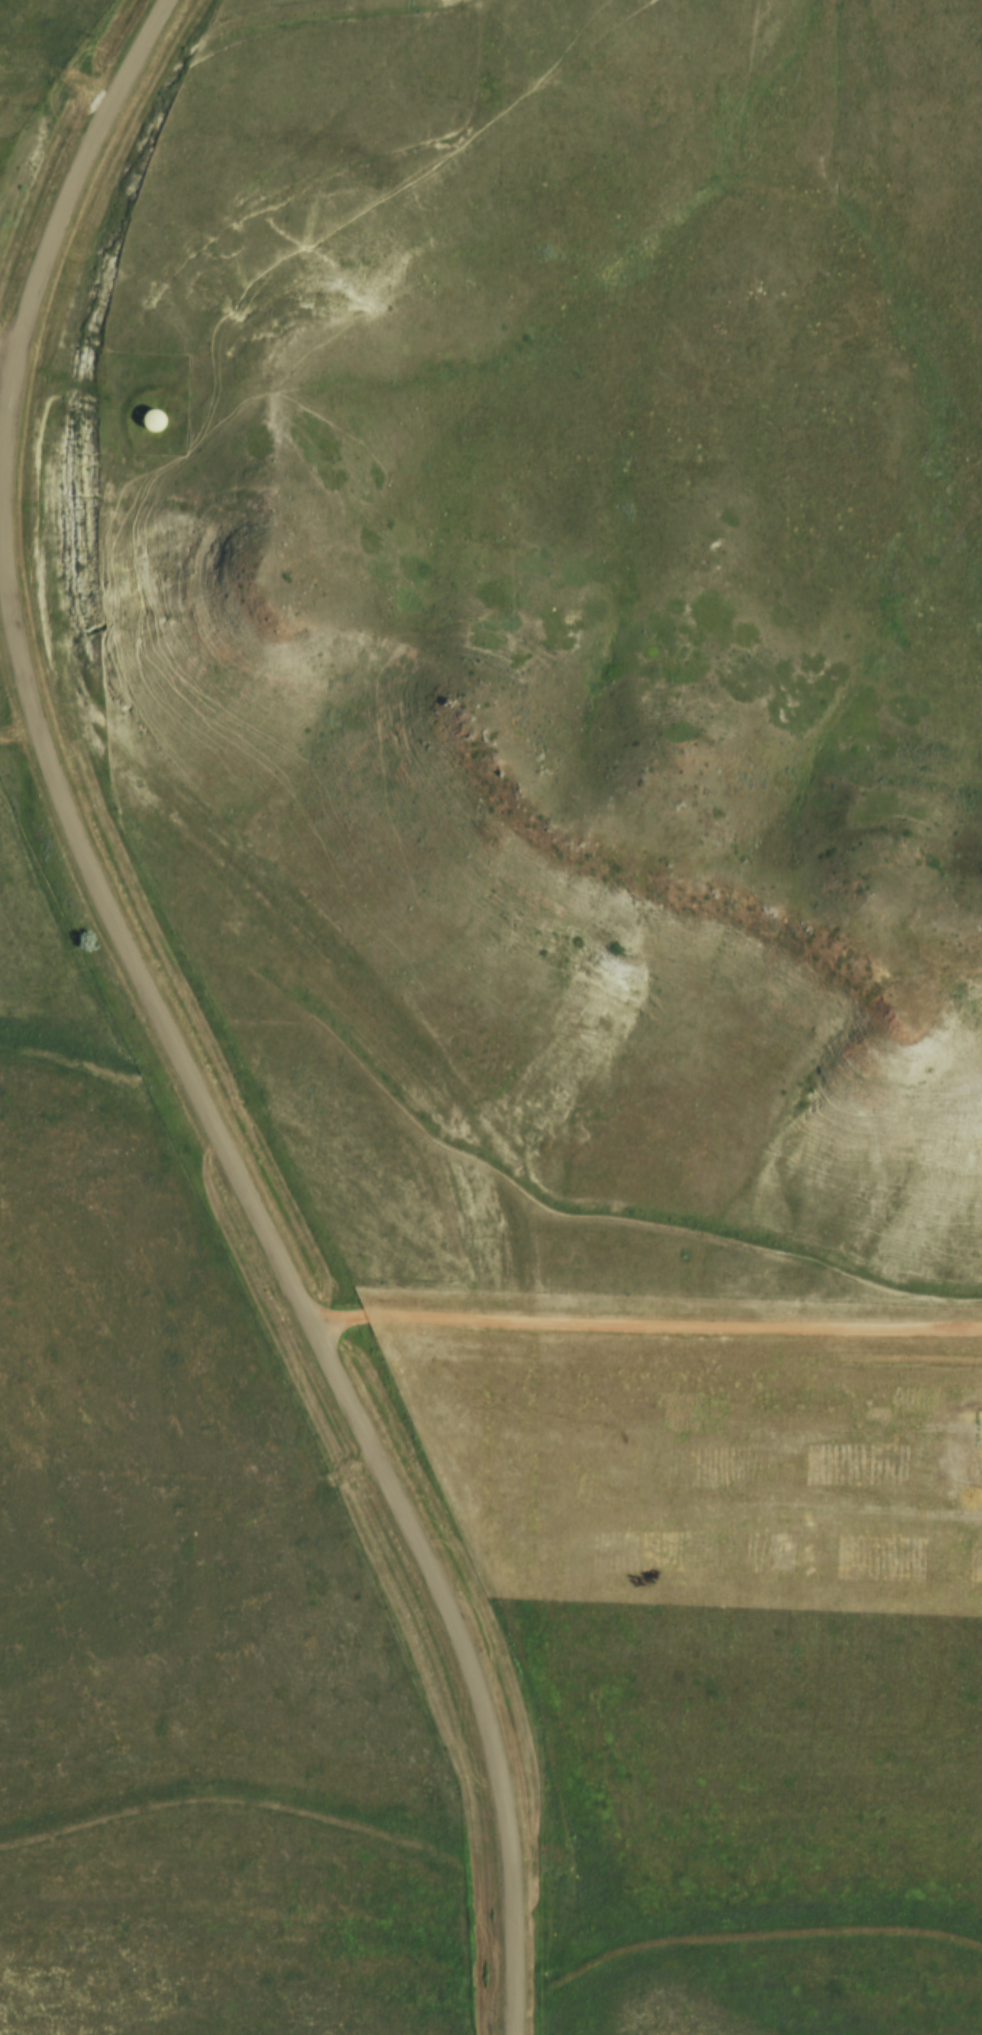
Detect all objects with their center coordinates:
building: (153, 418)
road: (21, 674)
road: (644, 1325)
road: (466, 1662)

